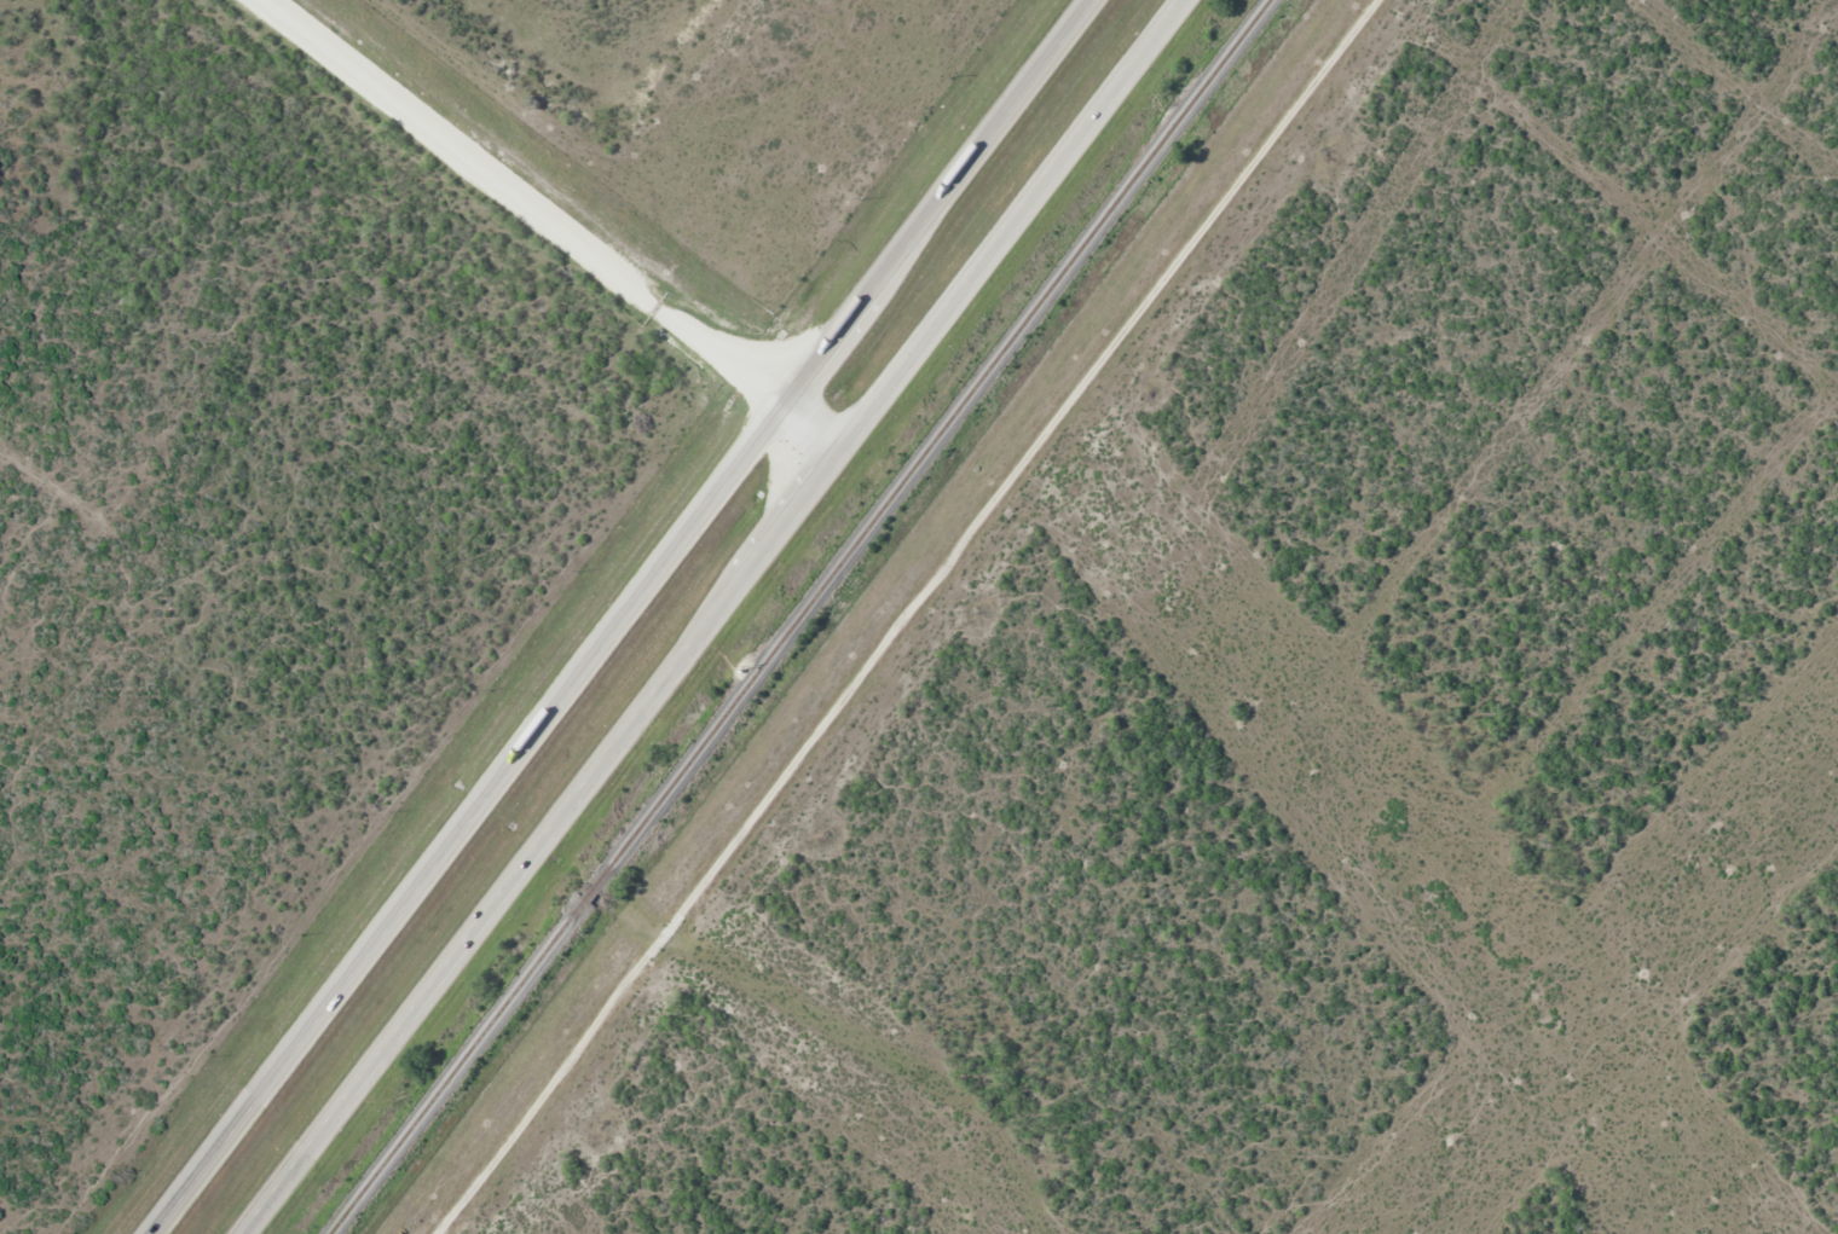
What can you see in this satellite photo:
road: (513, 205)
road: (813, 439)
road: (926, 616)
railway: (804, 618)
road: (629, 620)
road: (723, 621)

